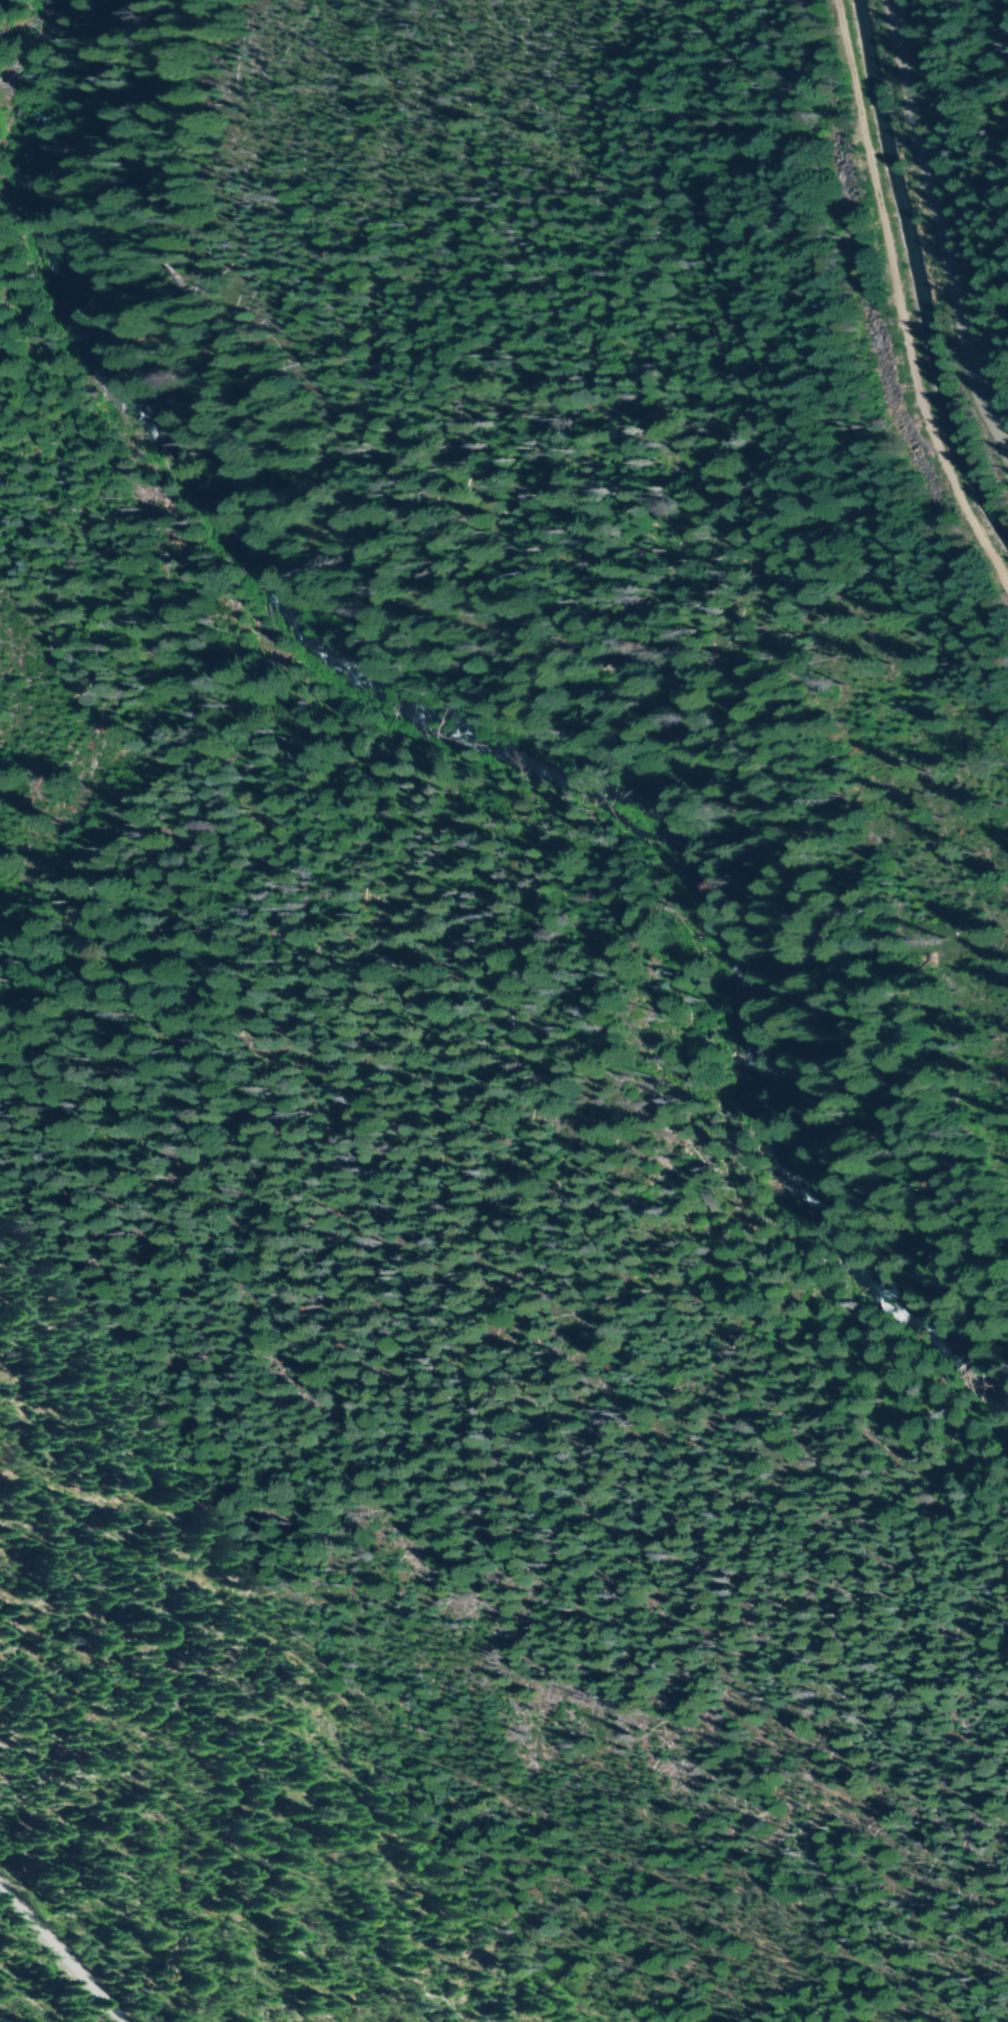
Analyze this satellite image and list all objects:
road: (942, 224)
road: (902, 297)
road: (538, 684)
river: (472, 718)
road: (59, 1956)

